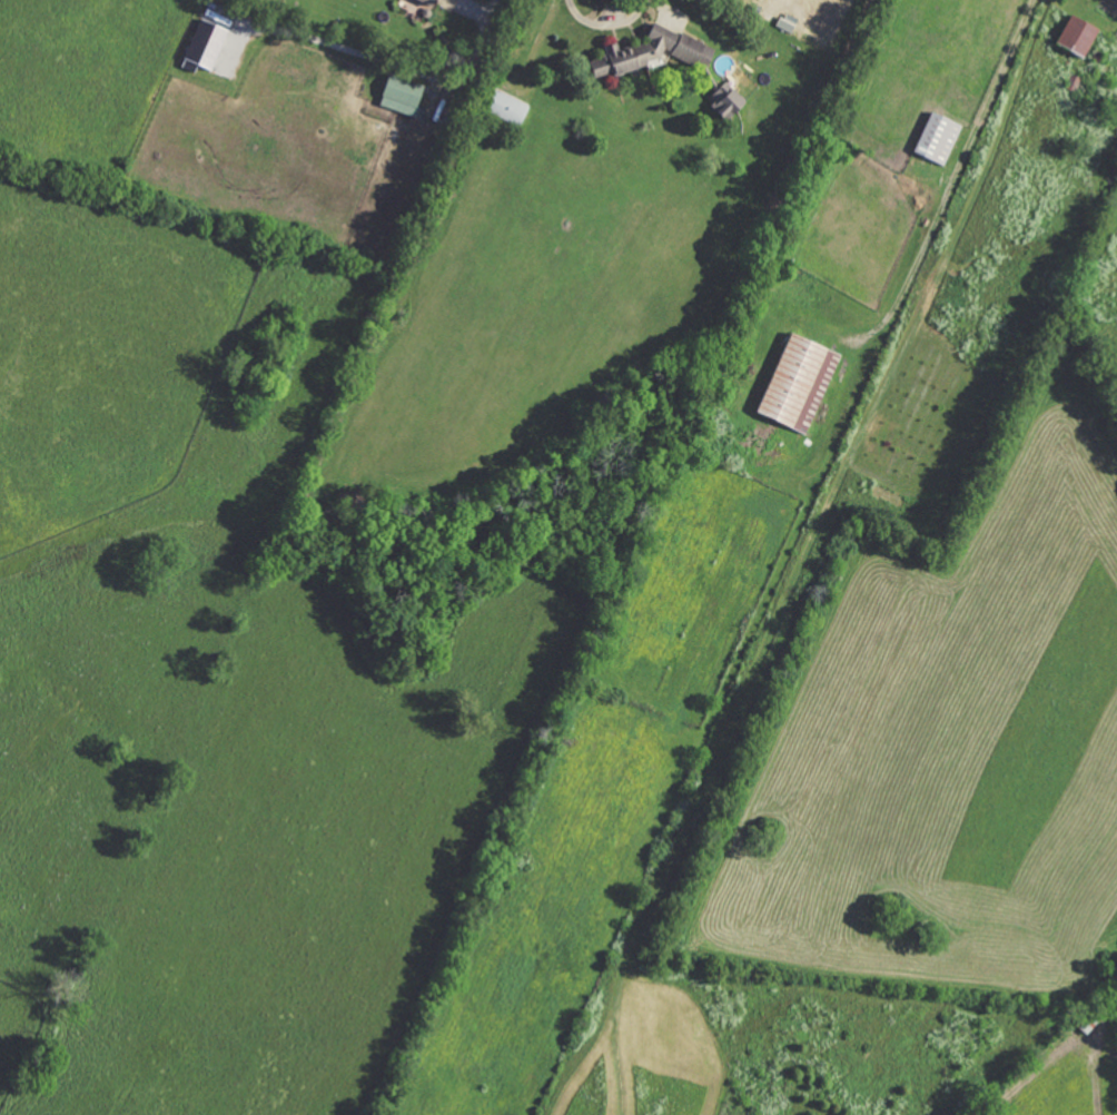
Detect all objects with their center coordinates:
road: (607, 27)
building: (1072, 37)
building: (205, 50)
building: (648, 53)
road: (388, 61)
building: (399, 97)
building: (721, 101)
building: (503, 109)
building: (935, 140)
road: (951, 174)
building: (795, 383)

